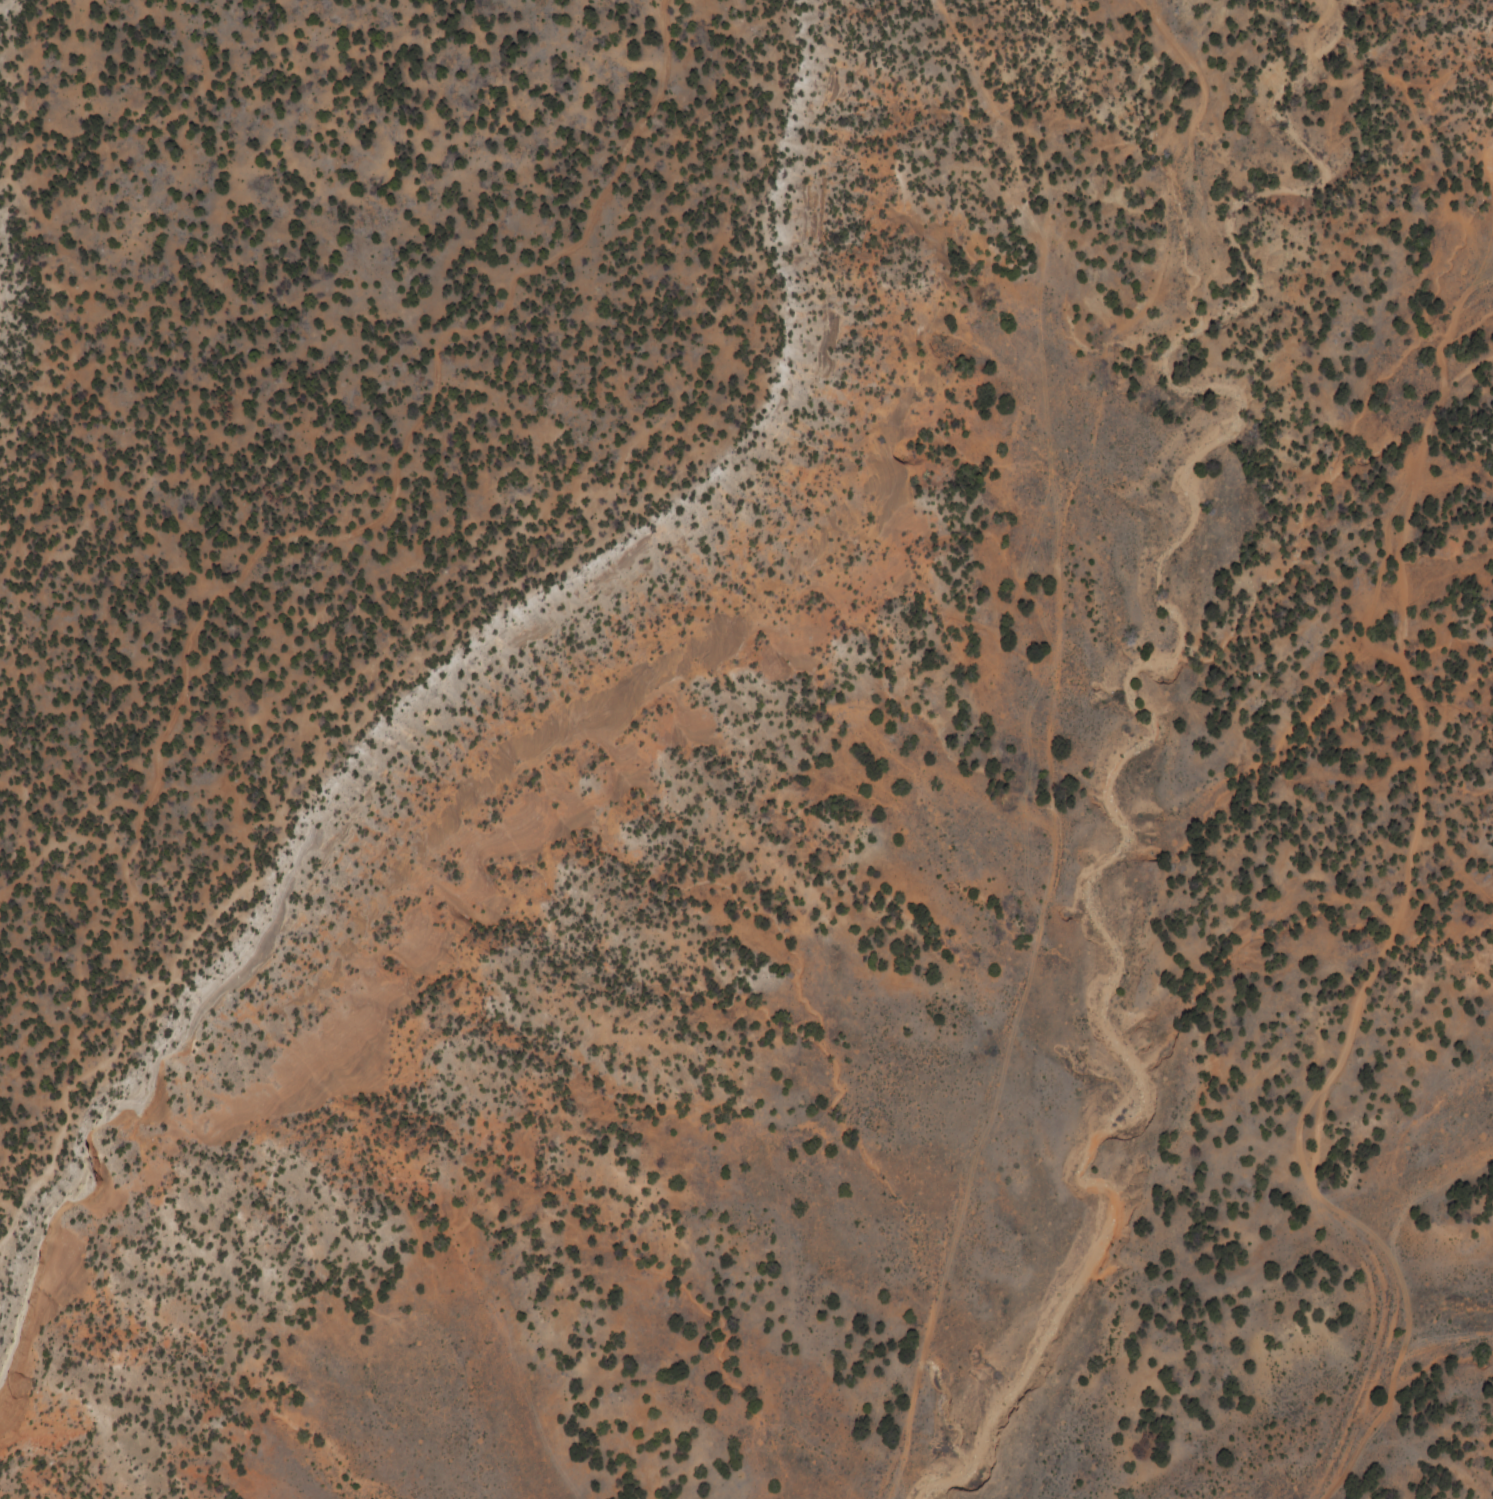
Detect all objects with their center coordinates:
road: (94, 14)
road: (216, 633)
road: (1048, 740)
road: (1400, 910)

